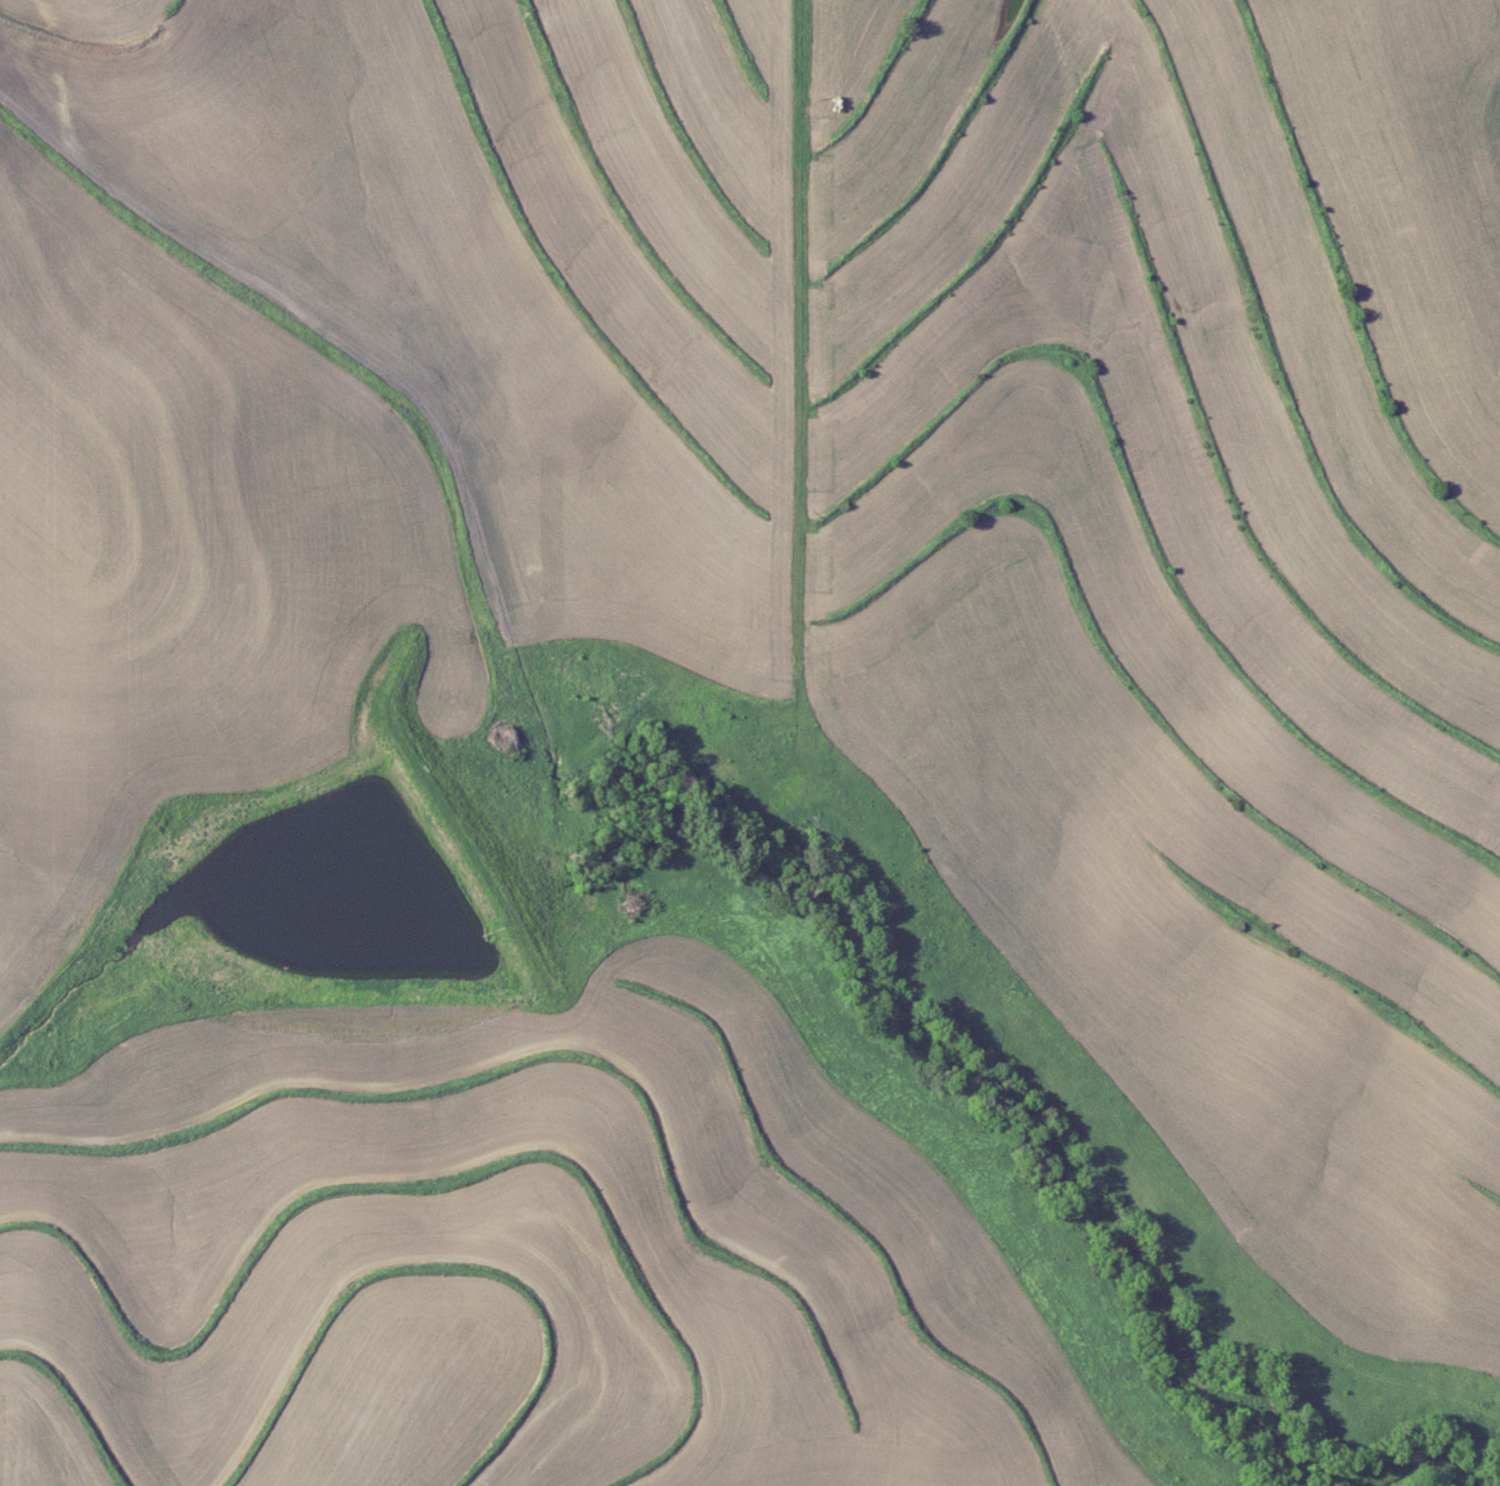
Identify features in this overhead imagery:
road: (97, 1114)

